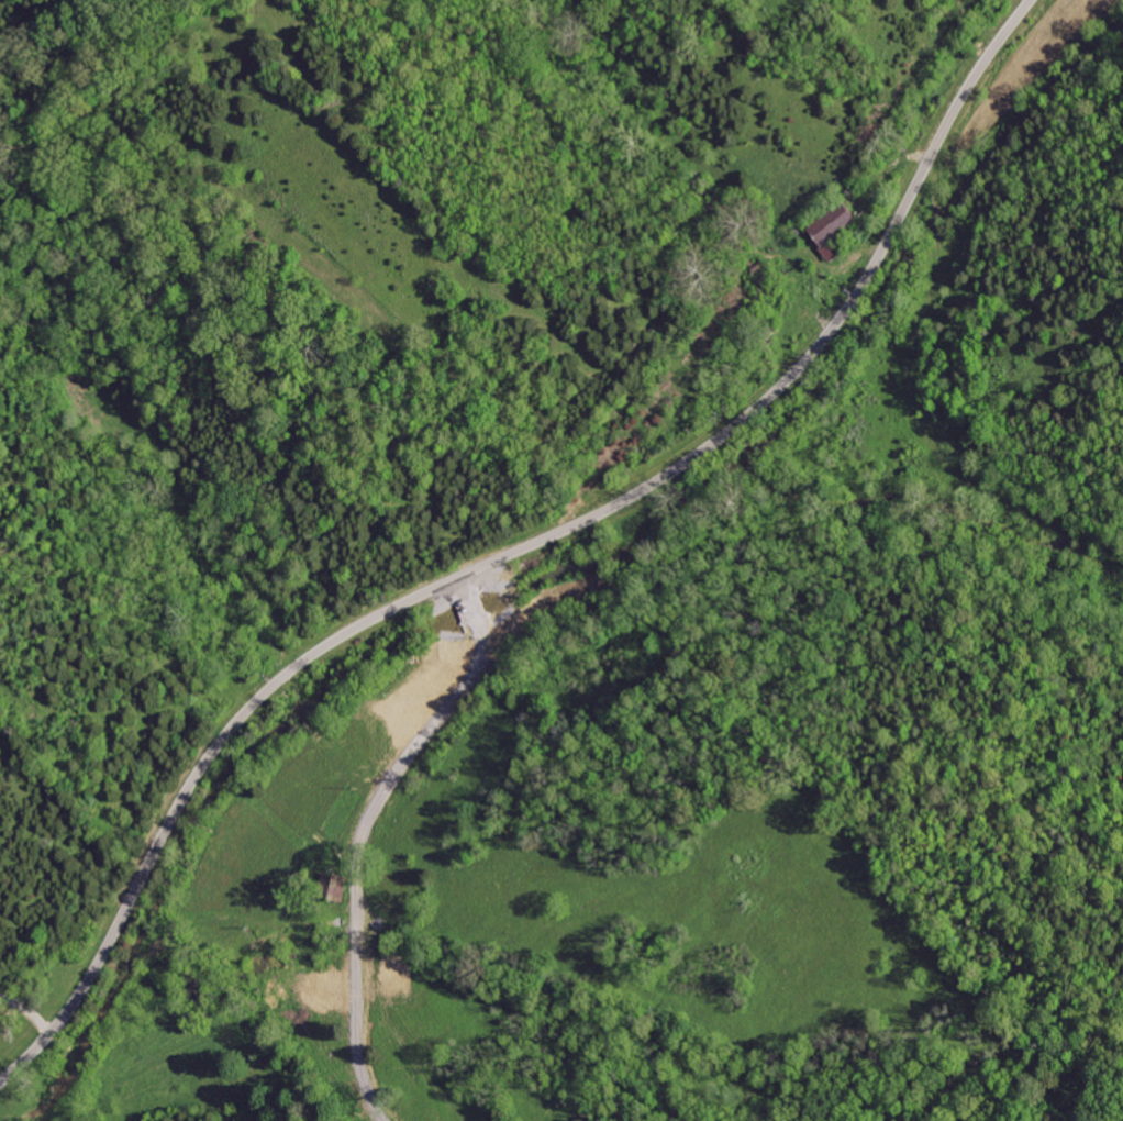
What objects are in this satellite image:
building: (836, 224)
road: (523, 548)

